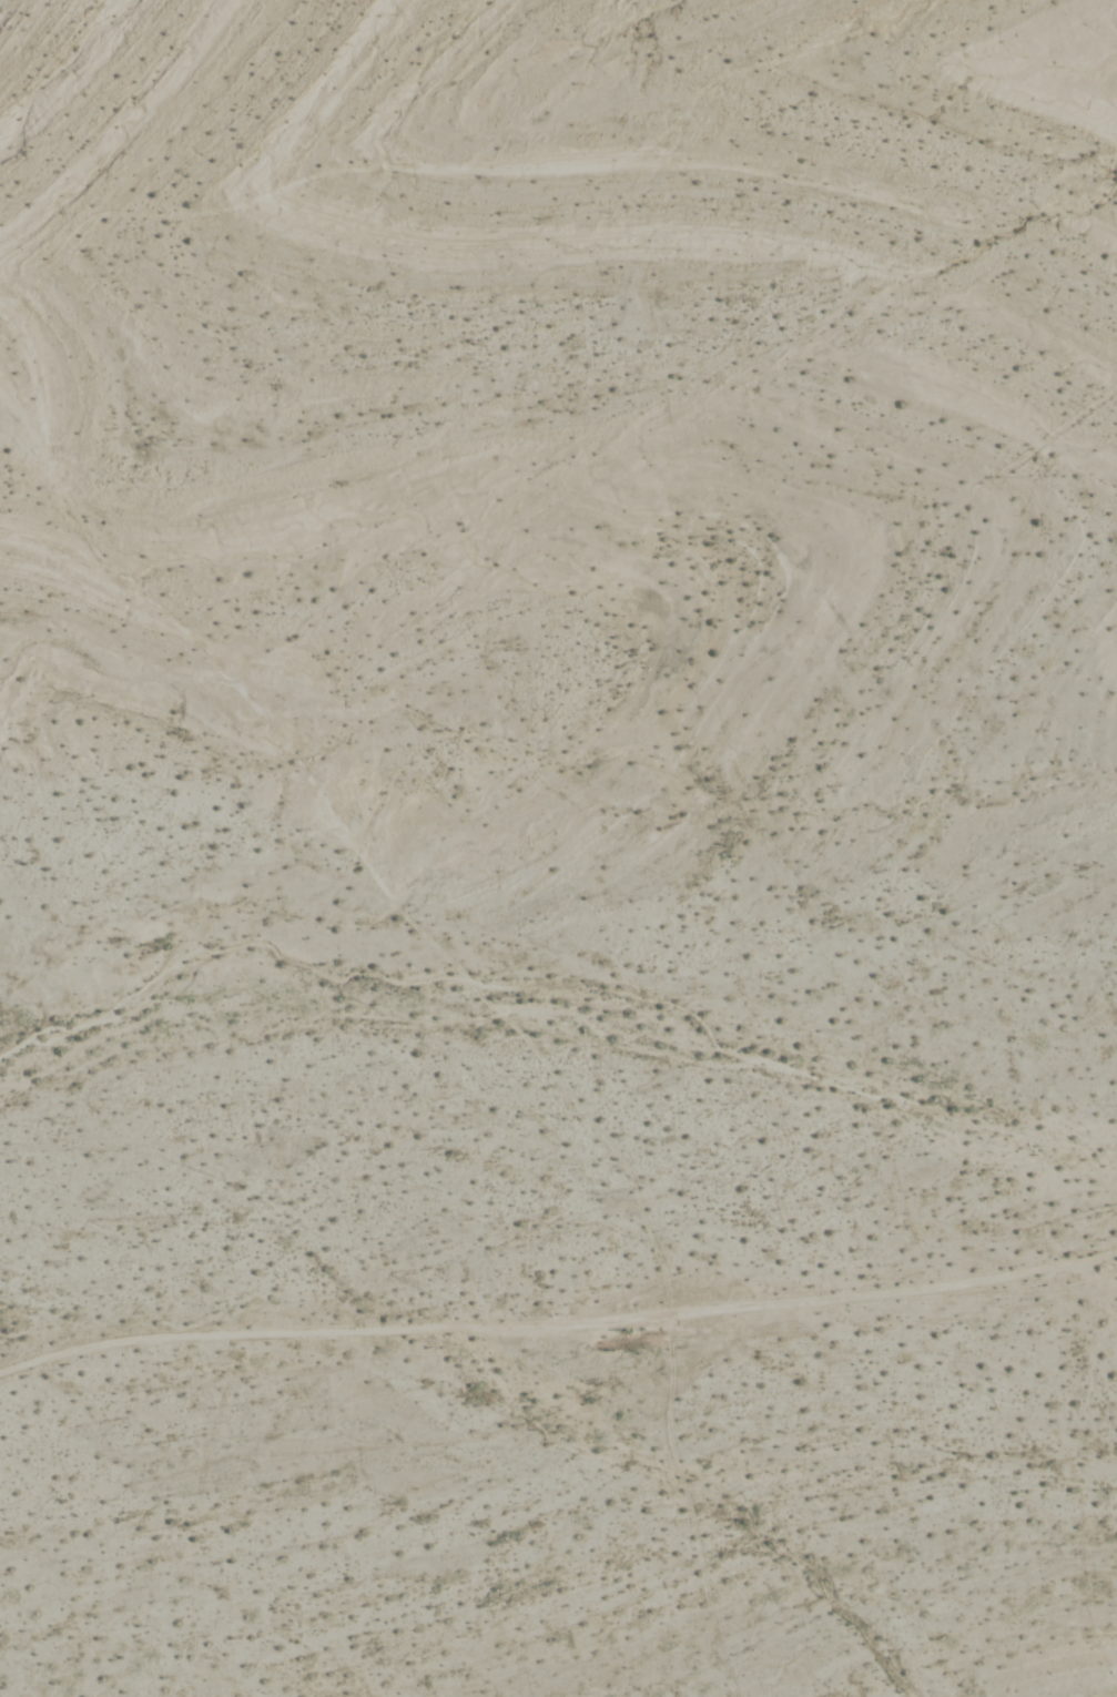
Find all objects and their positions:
road: (558, 1321)

